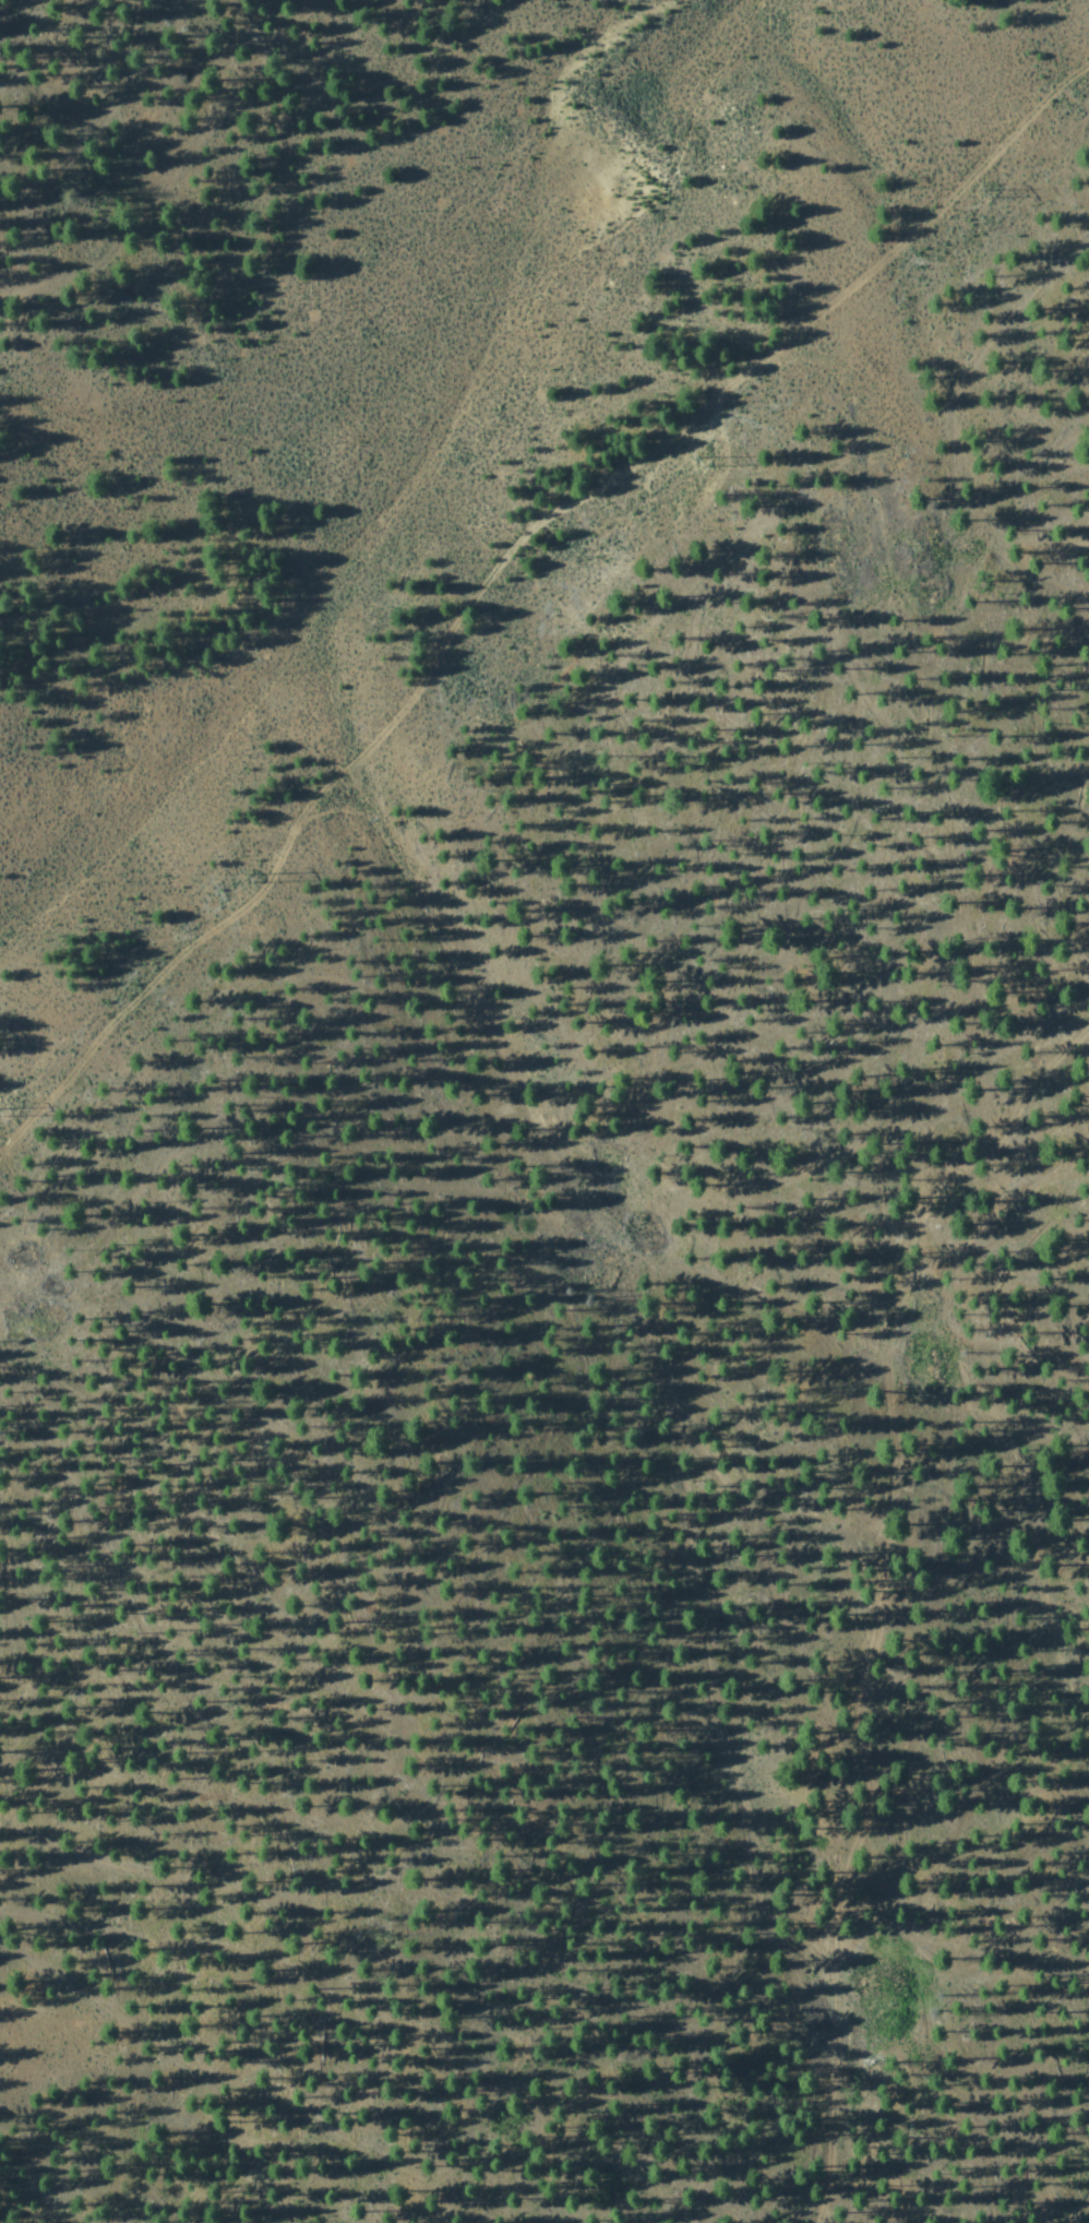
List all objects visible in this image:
power tower: (992, 202)
power tower: (716, 464)
power tower: (252, 883)
power tower: (9, 1117)

